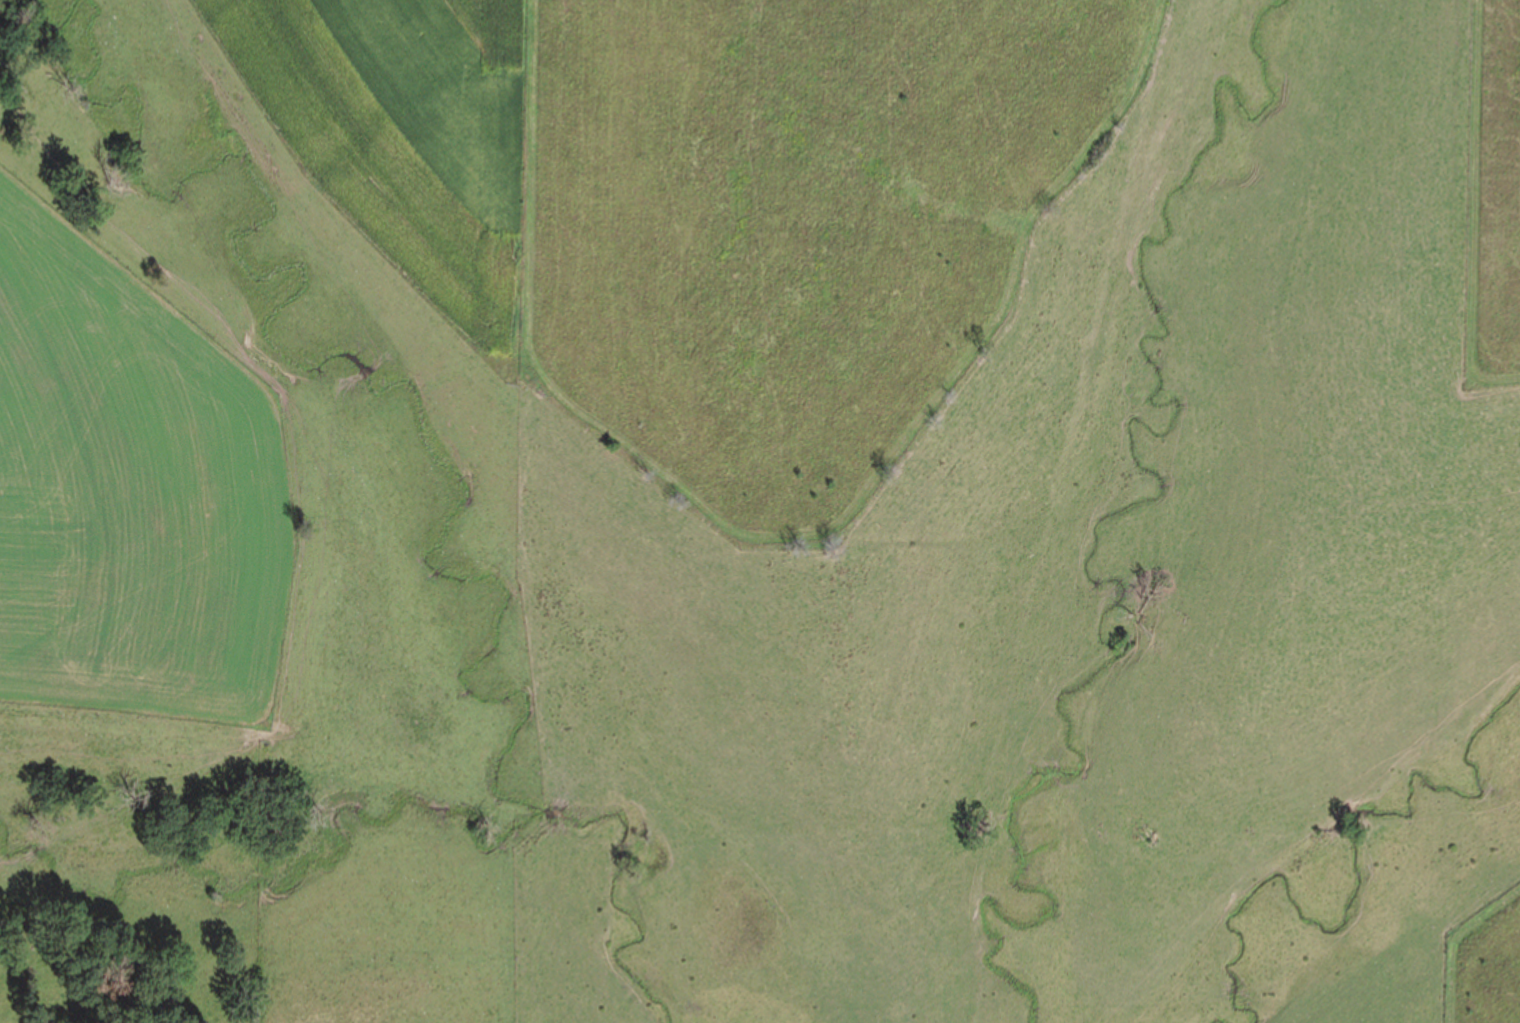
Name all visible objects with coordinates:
road: (1475, 166)
road: (1478, 375)
road: (788, 531)

